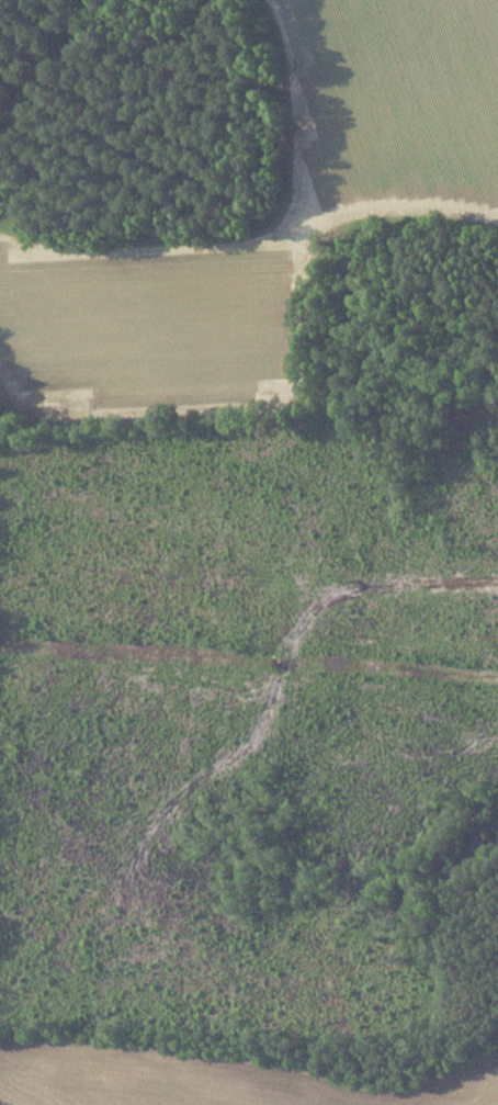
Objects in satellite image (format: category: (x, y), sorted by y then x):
crop: (398, 202)
road: (253, 238)
crop: (208, 1076)

